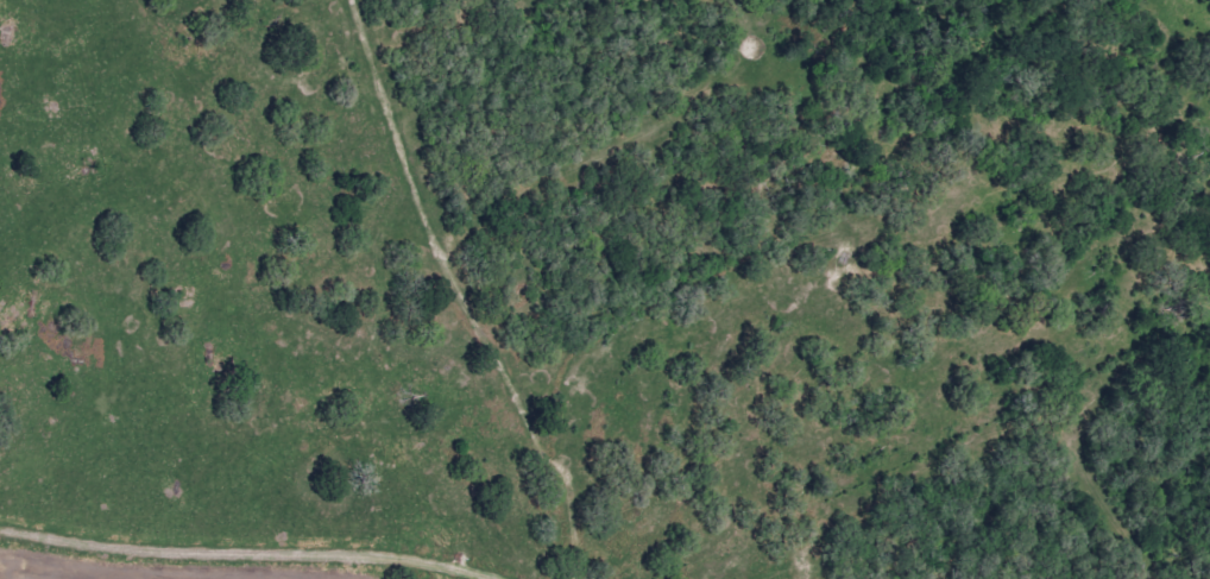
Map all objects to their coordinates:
road: (246, 553)

